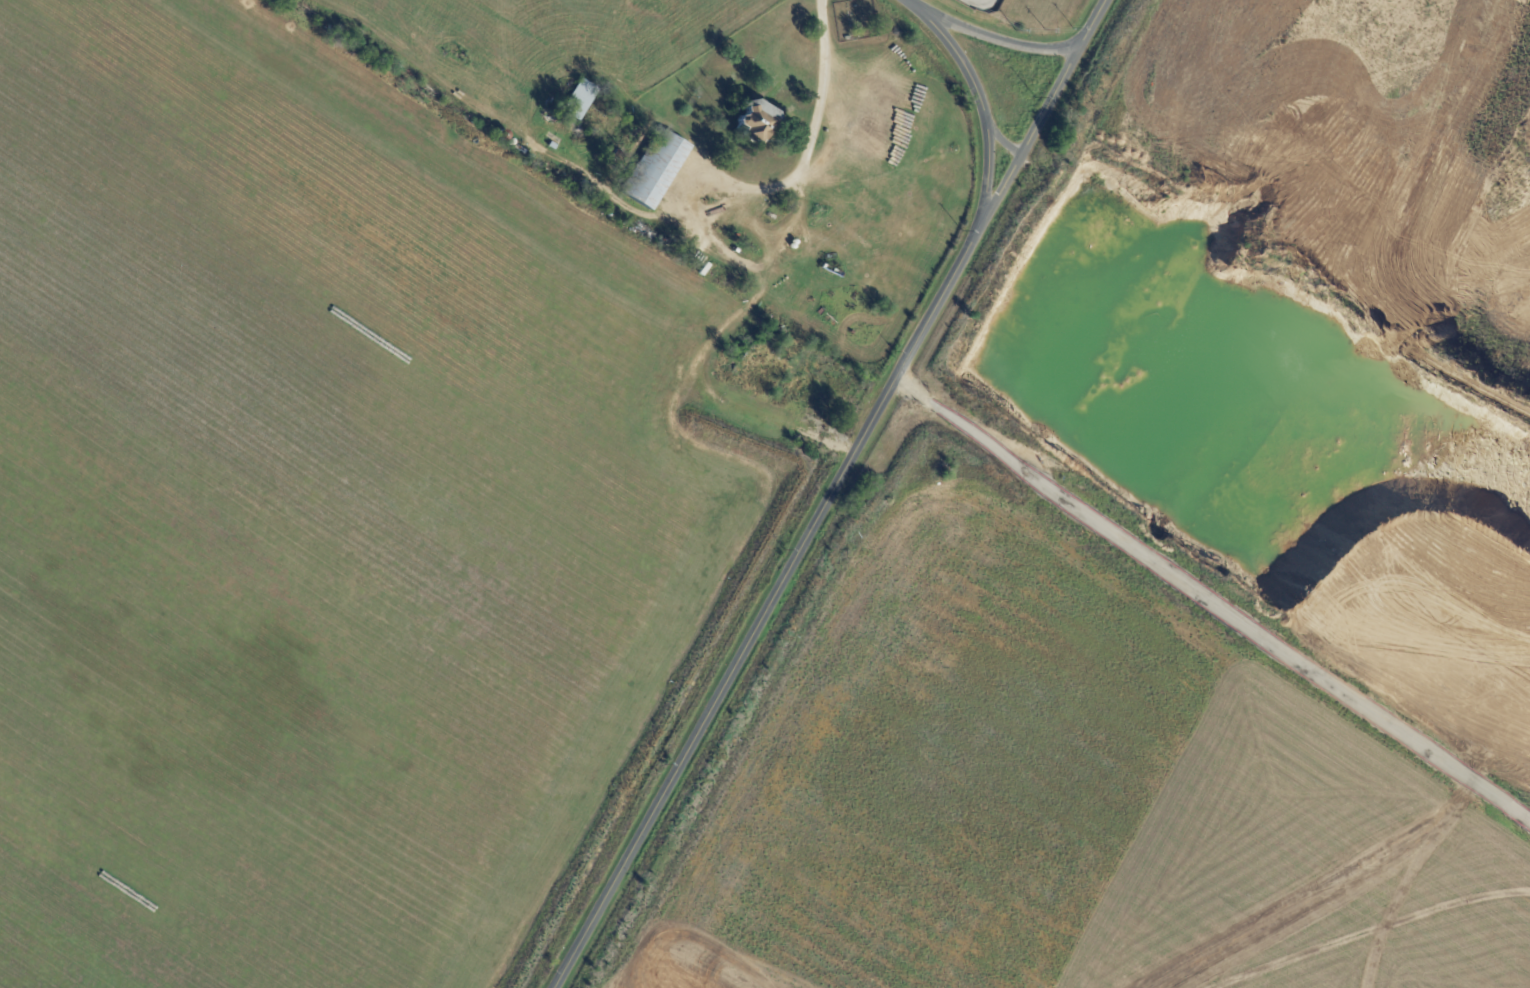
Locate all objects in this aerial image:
road: (911, 4)
road: (983, 6)
park: (858, 21)
road: (995, 37)
road: (982, 98)
building: (580, 101)
road: (1047, 103)
building: (660, 121)
building: (757, 123)
road: (1004, 140)
building: (552, 147)
building: (655, 170)
road: (765, 283)
building: (1002, 353)
road: (1287, 452)
quarry: (1162, 558)
road: (775, 597)
road: (1209, 605)

